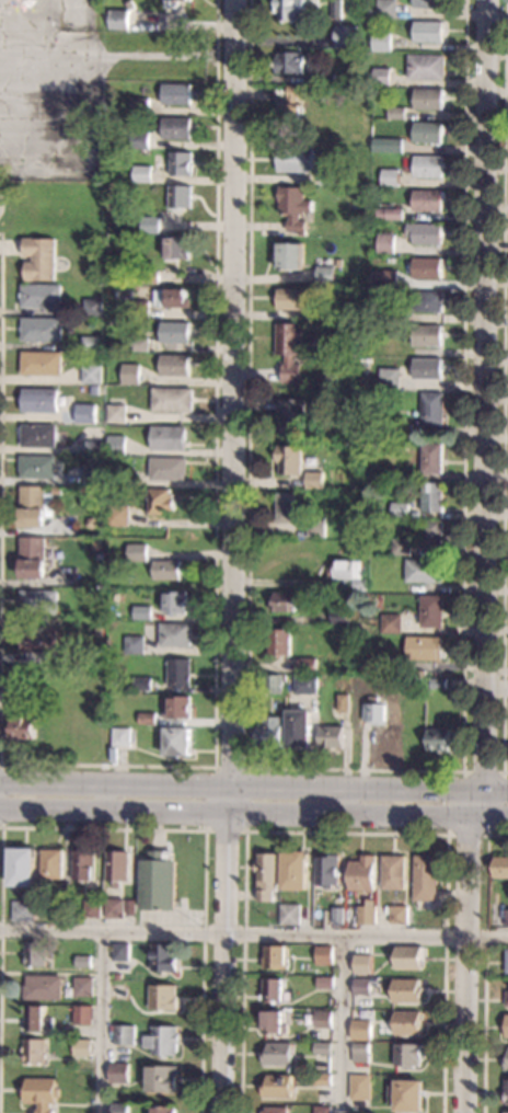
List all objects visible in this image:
building: (187, 0)
building: (172, 3)
building: (428, 3)
building: (290, 9)
building: (336, 9)
building: (386, 9)
building: (116, 20)
building: (428, 32)
building: (345, 36)
building: (381, 42)
road: (170, 56)
building: (290, 62)
building: (426, 67)
building: (381, 77)
building: (325, 78)
building: (176, 94)
building: (428, 99)
building: (140, 106)
building: (291, 108)
building: (396, 113)
building: (176, 128)
building: (427, 133)
building: (139, 140)
building: (386, 145)
building: (295, 159)
building: (180, 164)
building: (428, 167)
building: (141, 173)
building: (332, 176)
building: (390, 177)
building: (180, 197)
building: (428, 200)
building: (296, 209)
building: (388, 214)
building: (150, 225)
road: (1, 233)
building: (427, 233)
building: (385, 244)
building: (175, 252)
building: (290, 256)
building: (38, 259)
building: (331, 262)
building: (427, 268)
building: (325, 275)
building: (157, 277)
building: (384, 278)
building: (41, 296)
building: (171, 298)
building: (405, 298)
building: (290, 299)
building: (428, 301)
building: (92, 308)
building: (139, 309)
building: (385, 312)
building: (325, 314)
building: (108, 322)
building: (41, 330)
building: (174, 332)
building: (427, 335)
building: (91, 344)
building: (139, 344)
building: (290, 351)
building: (101, 356)
building: (41, 363)
building: (174, 365)
building: (427, 368)
building: (130, 374)
building: (91, 375)
building: (389, 378)
building: (365, 382)
road: (504, 389)
building: (345, 398)
building: (172, 400)
building: (39, 401)
road: (1, 410)
building: (116, 410)
building: (432, 410)
building: (84, 413)
building: (292, 417)
building: (402, 427)
building: (38, 436)
building: (168, 438)
building: (116, 445)
building: (95, 447)
building: (431, 458)
building: (289, 459)
building: (36, 467)
building: (168, 469)
building: (92, 473)
building: (128, 478)
building: (314, 481)
road: (215, 491)
building: (432, 497)
building: (159, 502)
building: (35, 505)
building: (286, 507)
building: (400, 509)
building: (118, 516)
building: (316, 527)
building: (432, 535)
building: (401, 547)
building: (348, 549)
building: (137, 553)
road: (230, 556)
road: (484, 556)
building: (32, 558)
building: (166, 570)
building: (345, 571)
building: (424, 571)
building: (355, 585)
building: (174, 601)
building: (282, 601)
building: (38, 603)
building: (431, 611)
building: (141, 612)
building: (339, 617)
building: (391, 624)
building: (175, 635)
building: (38, 641)
building: (279, 642)
building: (134, 645)
building: (424, 649)
building: (308, 665)
building: (369, 666)
building: (178, 673)
building: (94, 675)
building: (77, 678)
building: (415, 682)
building: (141, 684)
building: (273, 684)
building: (437, 684)
building: (305, 685)
building: (342, 703)
building: (177, 708)
building: (48, 709)
building: (376, 711)
building: (408, 712)
building: (13, 713)
building: (147, 719)
building: (299, 728)
building: (83, 732)
building: (268, 732)
building: (120, 737)
building: (331, 737)
building: (438, 739)
building: (177, 742)
road: (357, 769)
road: (247, 771)
road: (501, 772)
road: (254, 787)
road: (0, 805)
road: (253, 811)
road: (195, 828)
road: (346, 833)
building: (50, 863)
building: (21, 867)
building: (83, 867)
building: (116, 867)
building: (500, 867)
building: (295, 871)
building: (326, 871)
building: (393, 872)
building: (362, 874)
building: (266, 876)
building: (426, 879)
building: (158, 883)
building: (182, 886)
building: (61, 899)
building: (92, 908)
building: (114, 908)
building: (23, 911)
building: (366, 914)
building: (290, 915)
building: (399, 915)
building: (337, 916)
building: (507, 917)
road: (253, 933)
building: (35, 954)
building: (324, 955)
building: (120, 956)
building: (163, 957)
building: (275, 957)
building: (409, 959)
building: (82, 962)
building: (363, 964)
road: (486, 964)
building: (507, 965)
building: (330, 972)
building: (116, 977)
building: (325, 983)
building: (82, 986)
building: (362, 986)
building: (42, 988)
building: (273, 989)
building: (407, 990)
building: (162, 997)
building: (507, 999)
building: (82, 1014)
building: (37, 1019)
building: (323, 1020)
road: (104, 1021)
building: (274, 1023)
road: (342, 1023)
building: (408, 1023)
building: (507, 1026)
building: (361, 1030)
building: (124, 1035)
building: (162, 1041)
building: (81, 1047)
building: (324, 1048)
building: (34, 1052)
building: (361, 1053)
building: (278, 1054)
building: (408, 1055)
building: (507, 1064)
building: (118, 1072)
building: (162, 1080)
building: (324, 1080)
building: (278, 1087)
building: (360, 1087)
building: (41, 1093)
building: (505, 1094)
building: (409, 1097)
building: (119, 1108)
building: (162, 1110)
building: (276, 1110)
building: (323, 1110)
building: (506, 1112)

